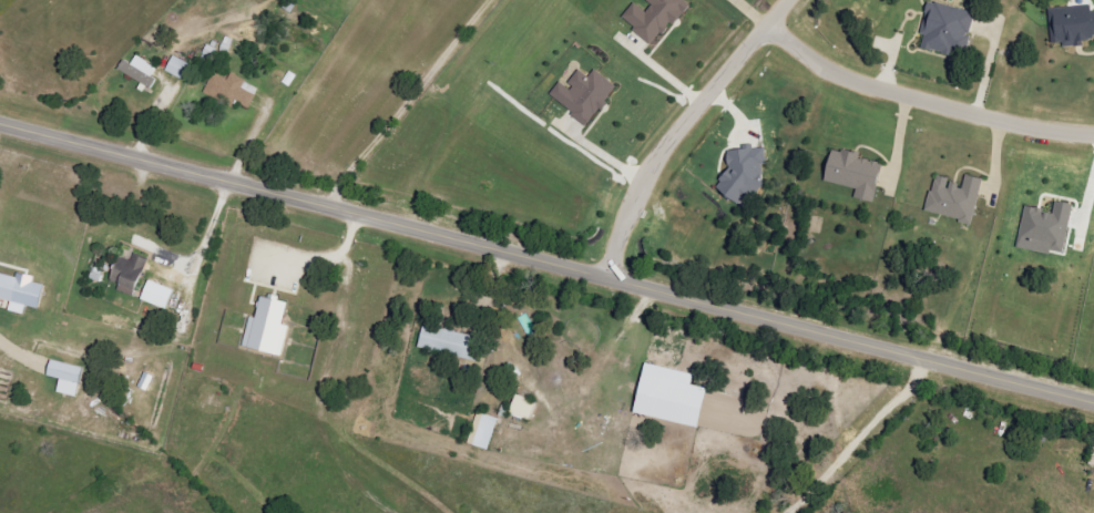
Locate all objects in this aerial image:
building: (657, 18)
building: (1073, 27)
building: (950, 29)
building: (181, 68)
building: (142, 71)
road: (927, 88)
building: (235, 91)
building: (587, 95)
road: (681, 131)
building: (858, 174)
building: (746, 175)
building: (959, 198)
building: (1049, 229)
road: (546, 265)
building: (134, 274)
building: (24, 293)
building: (162, 296)
building: (272, 327)
building: (451, 343)
building: (71, 378)
building: (677, 397)
building: (526, 408)
building: (485, 431)
building: (1093, 464)

